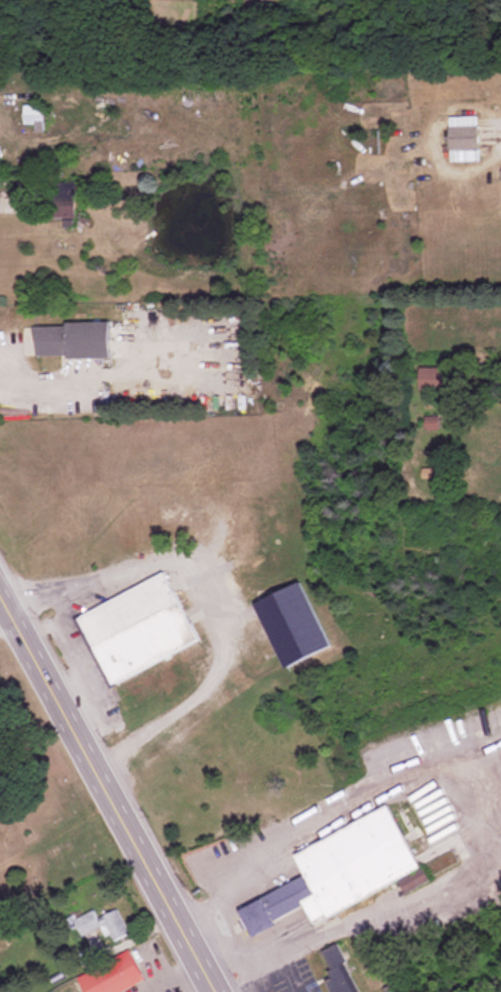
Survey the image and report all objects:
building: (33, 114)
building: (464, 139)
building: (62, 203)
building: (88, 340)
building: (50, 341)
building: (435, 379)
road: (52, 382)
building: (431, 424)
building: (243, 544)
road: (207, 606)
building: (294, 626)
building: (136, 630)
road: (107, 792)
park: (40, 809)
road: (458, 813)
road: (55, 829)
building: (442, 863)
building: (345, 872)
building: (103, 926)
road: (132, 937)
building: (339, 972)
building: (114, 977)

